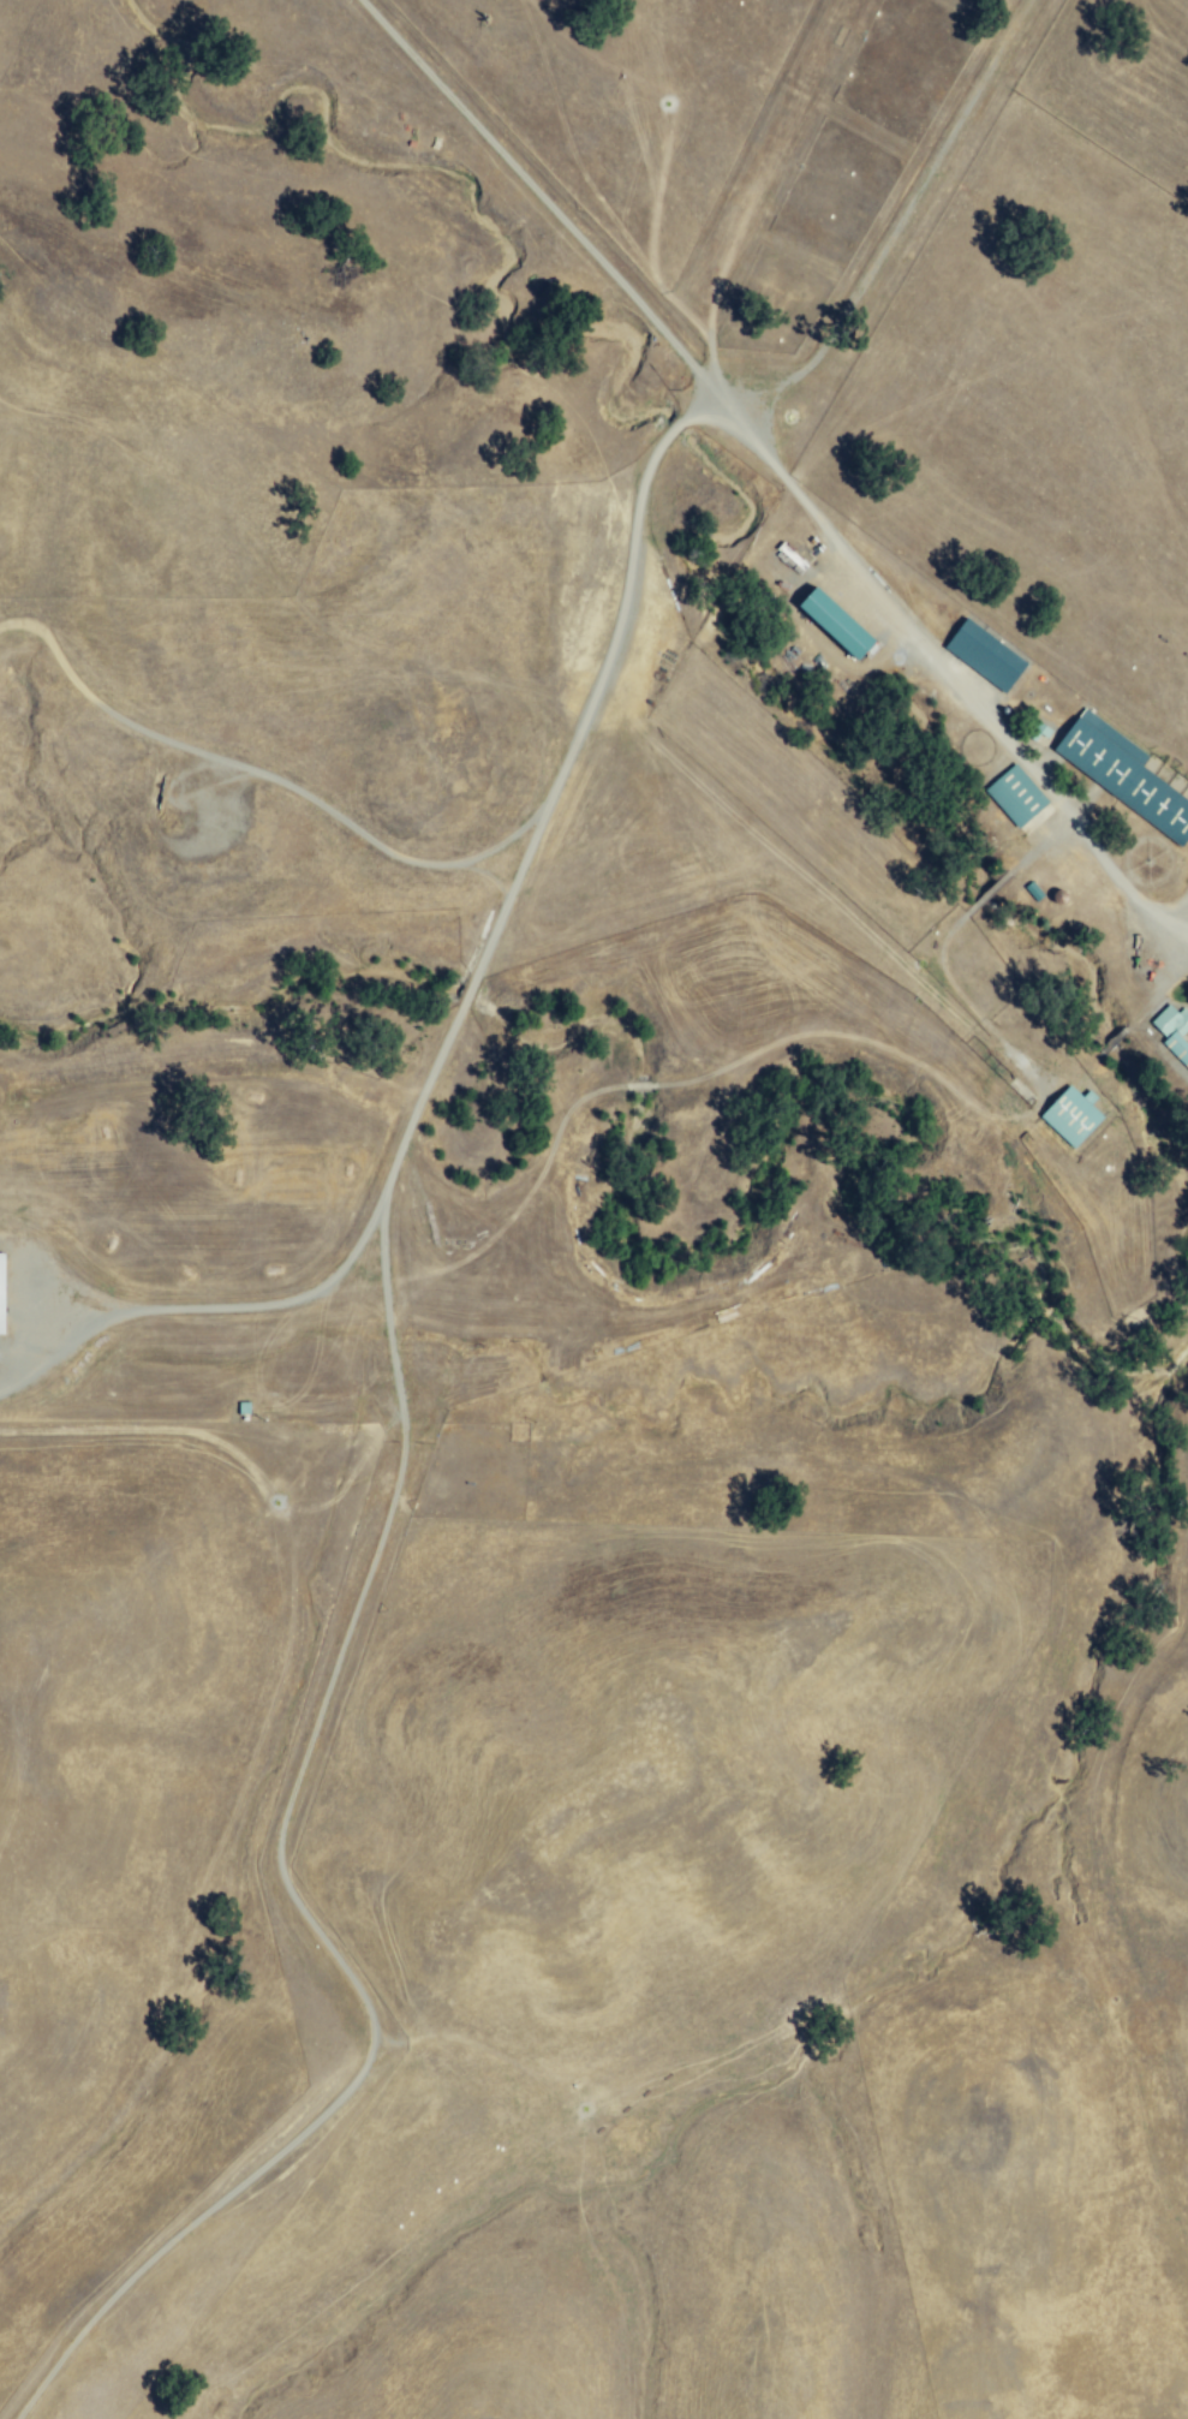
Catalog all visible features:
building: (826, 624)
building: (980, 655)
road: (984, 711)
building: (1120, 774)
building: (1013, 797)
building: (1171, 1032)
building: (1077, 1116)
building: (2, 1292)
road: (477, 1312)
road: (145, 2263)

